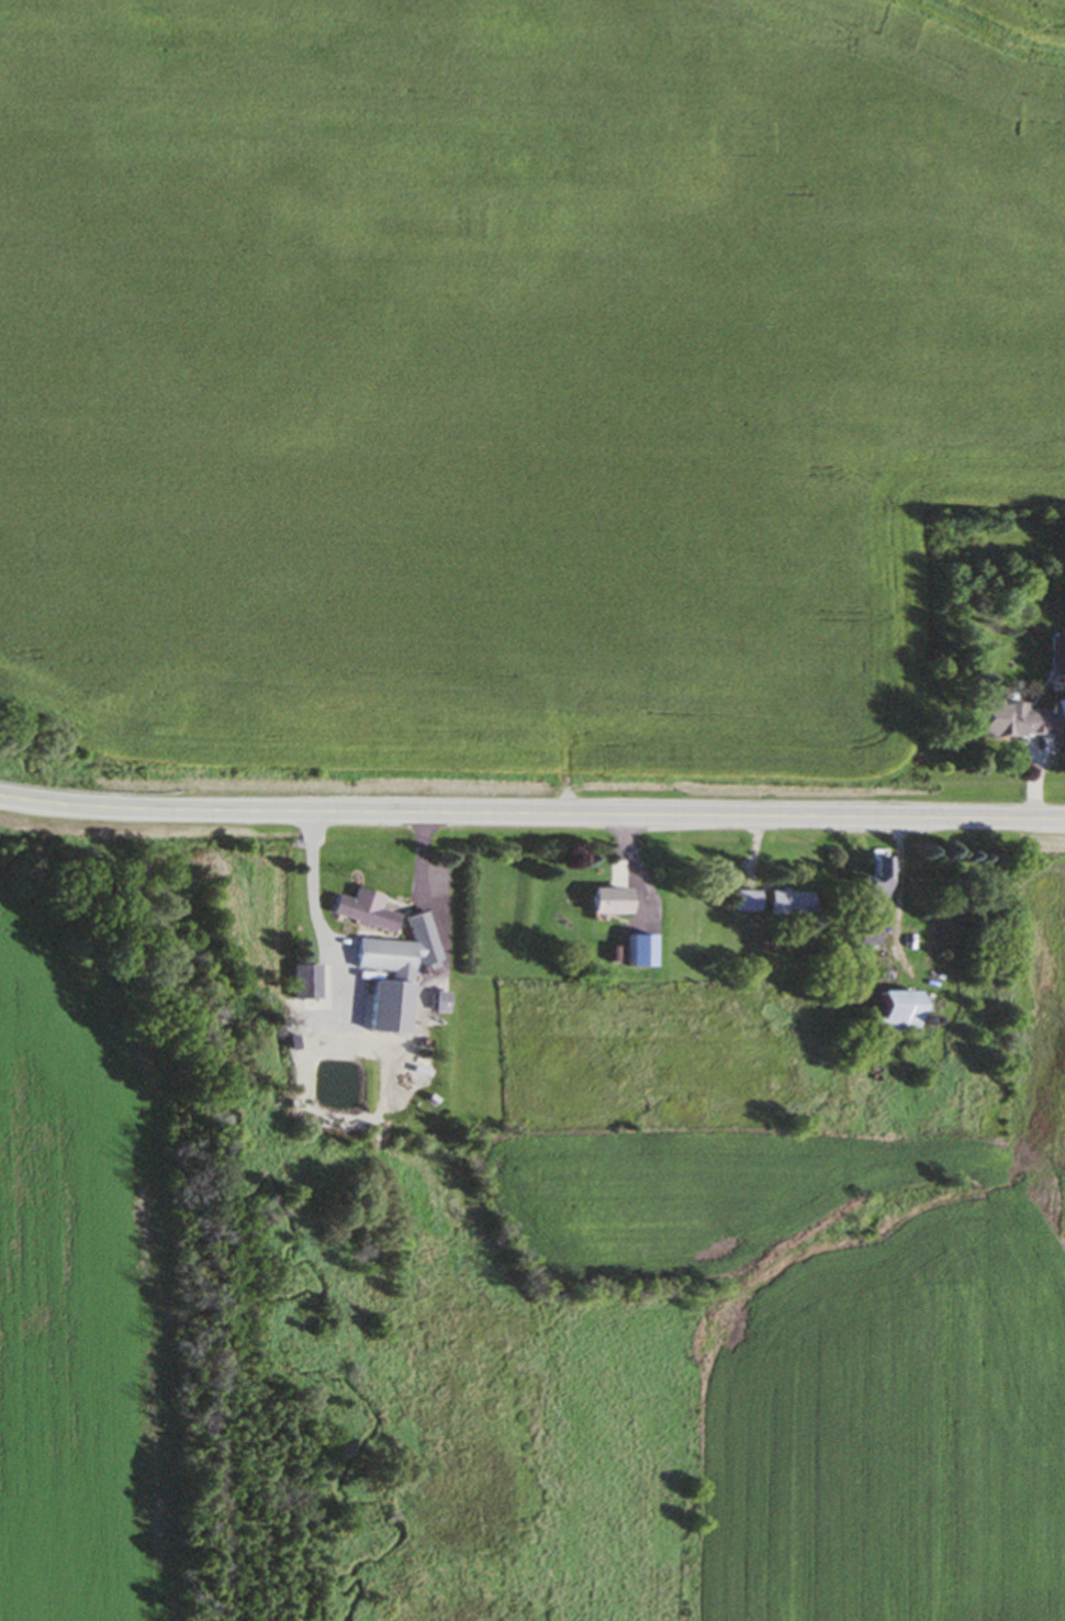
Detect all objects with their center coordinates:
building: (1057, 658)
building: (1014, 724)
road: (531, 816)
building: (878, 879)
building: (748, 902)
building: (612, 904)
building: (792, 905)
building: (367, 912)
road: (321, 924)
building: (854, 964)
building: (879, 968)
building: (399, 974)
building: (306, 984)
building: (896, 1016)

